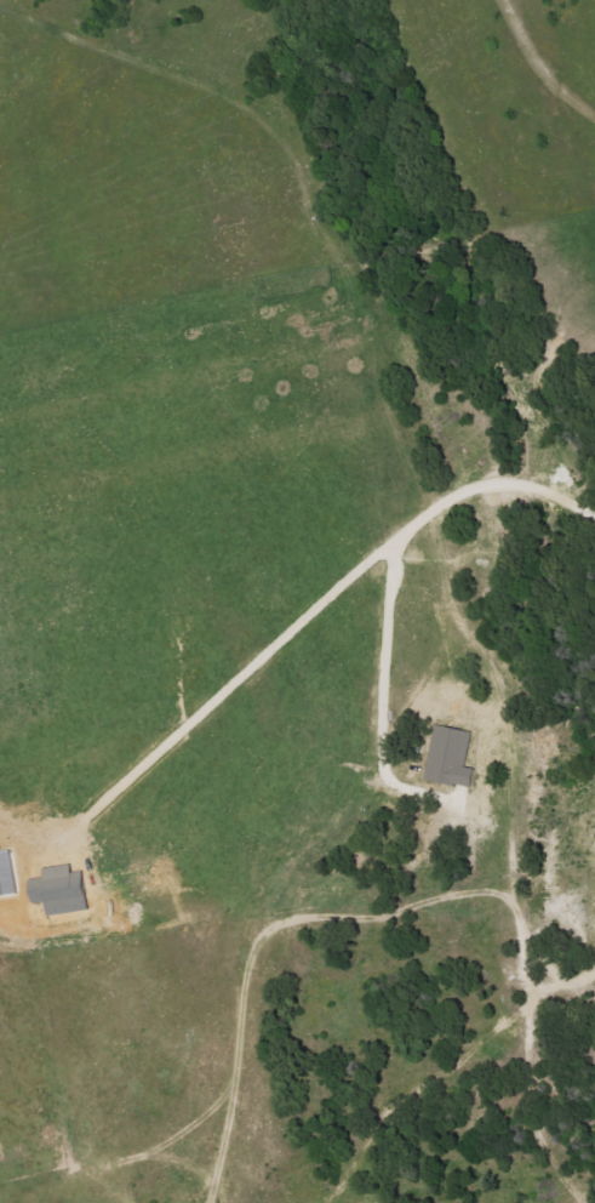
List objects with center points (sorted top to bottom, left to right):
building: (452, 757)
building: (62, 891)

